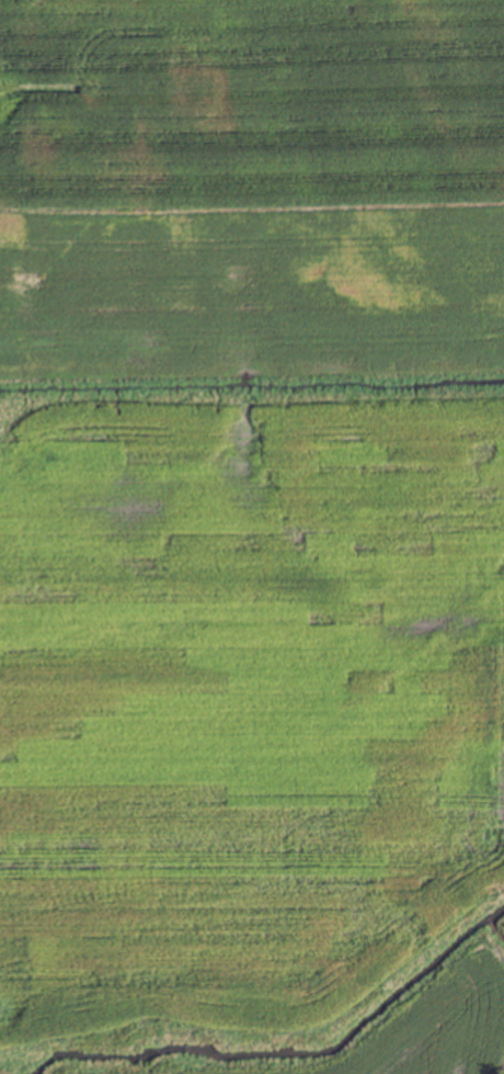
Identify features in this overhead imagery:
river: (305, 1050)

